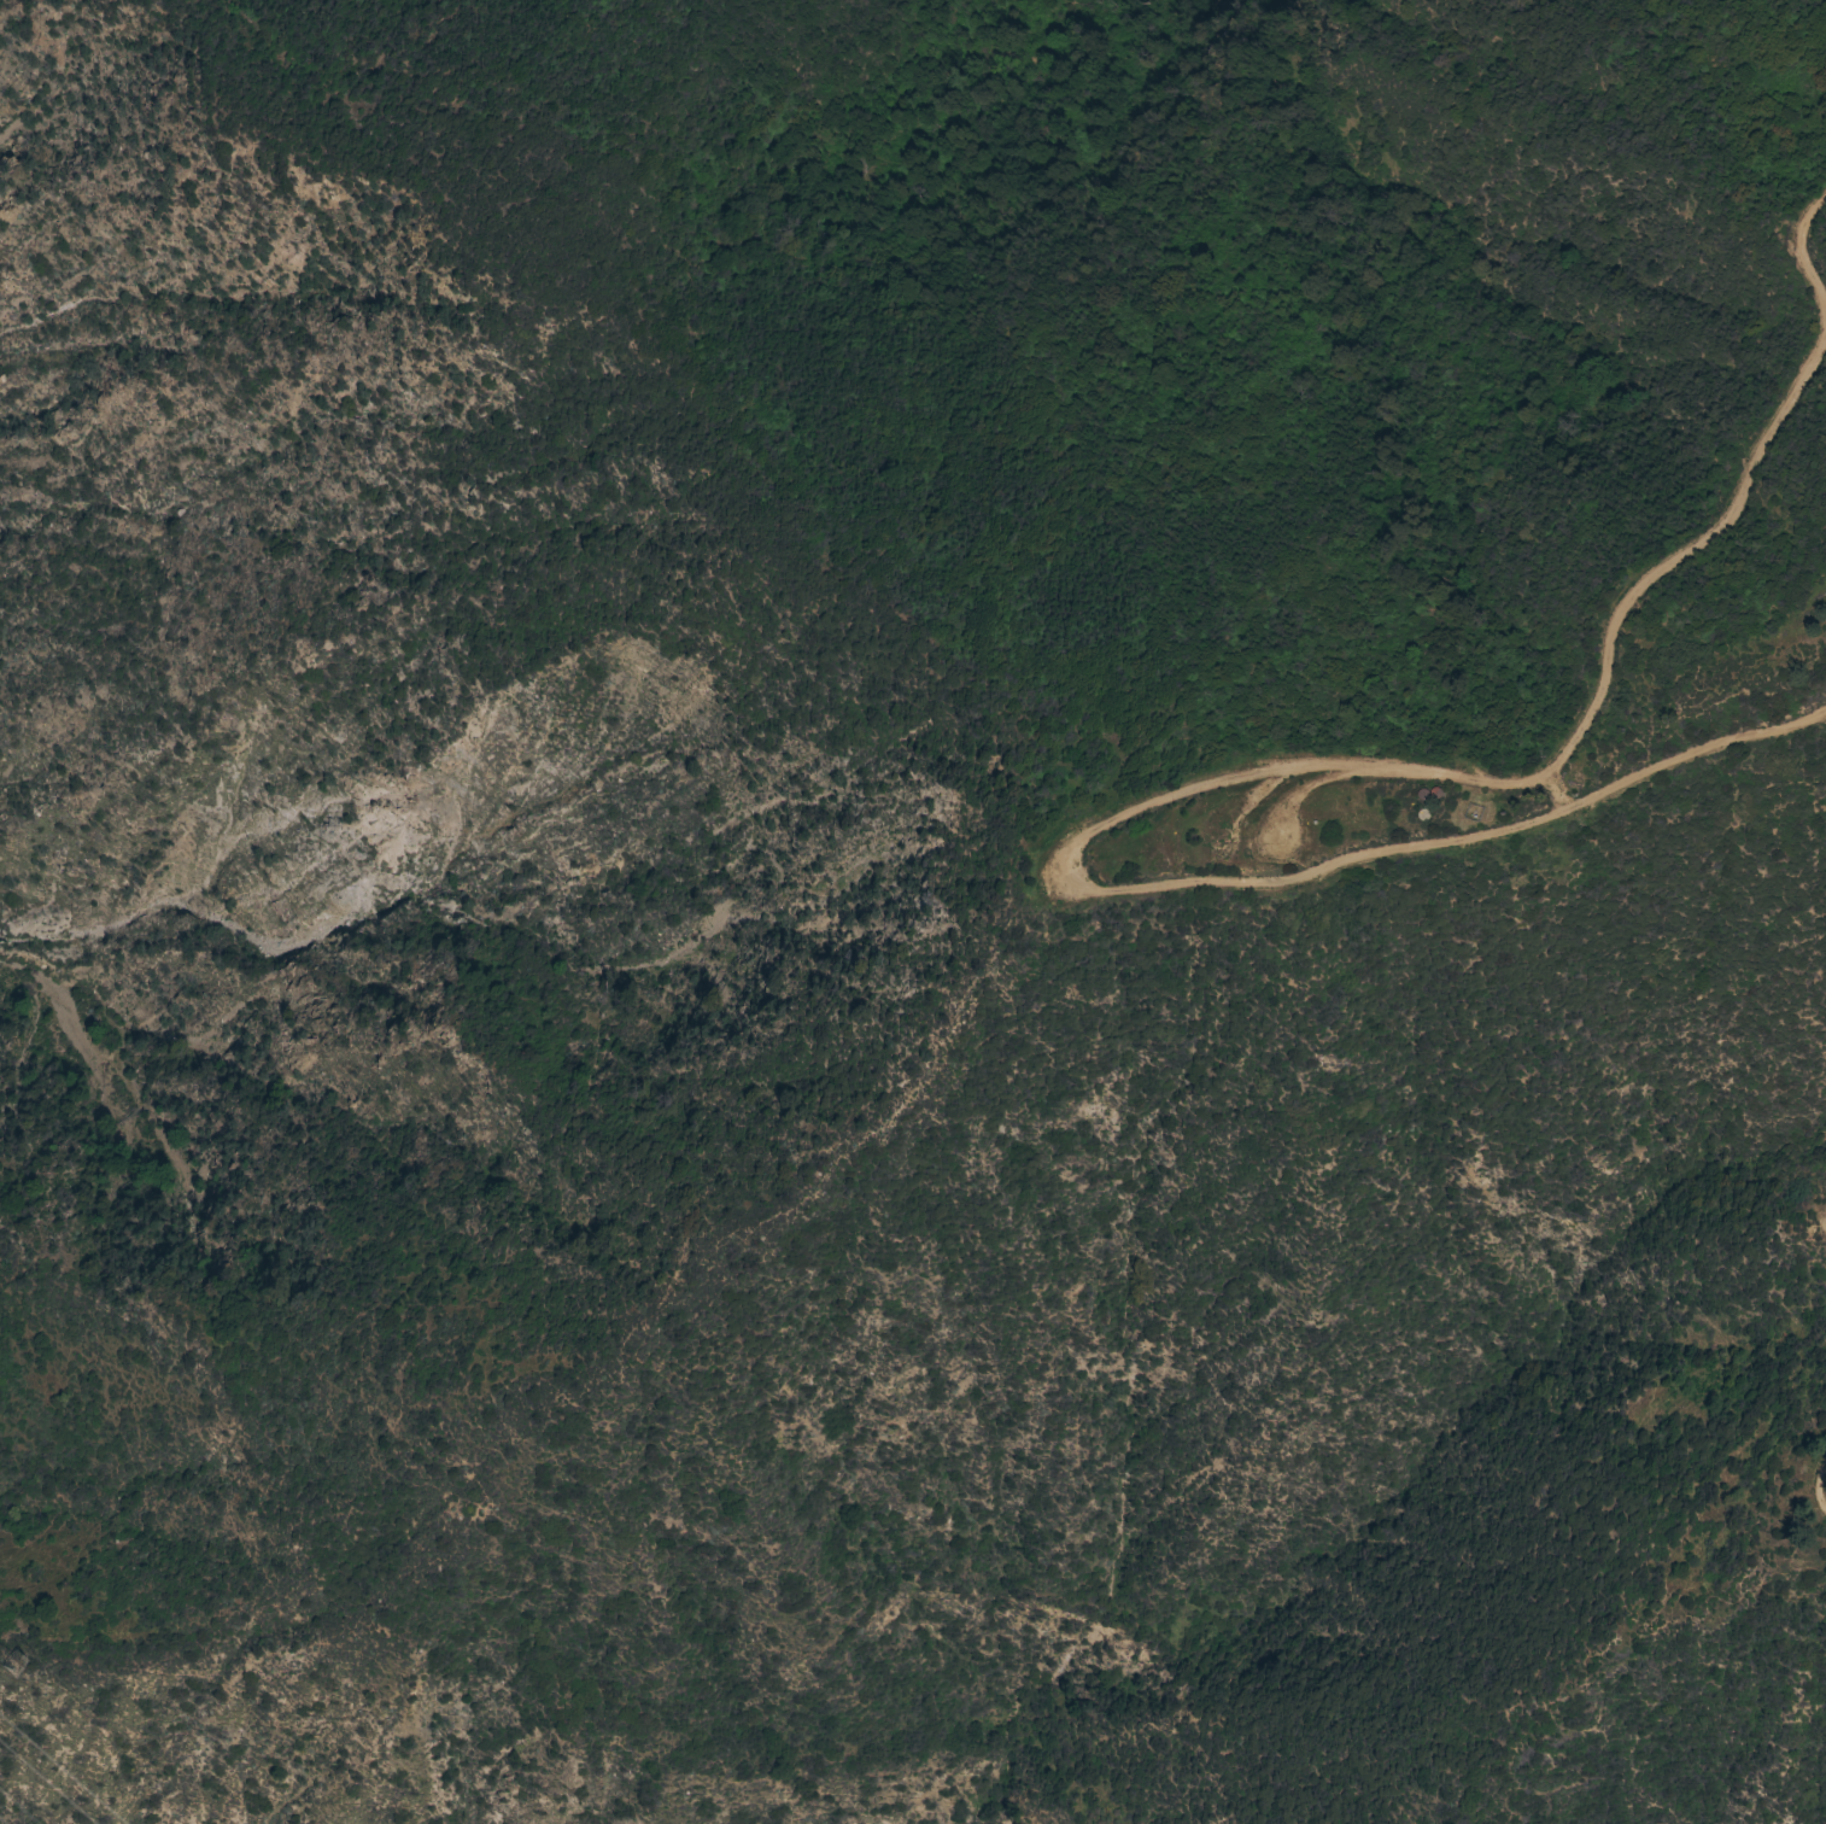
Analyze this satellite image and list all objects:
road: (1235, 774)
road: (1553, 793)
helipad: (1276, 840)
road: (1822, 1461)
road: (1822, 1468)
road: (1815, 1486)
power tower: (16, 1665)
road: (1570, 1690)

